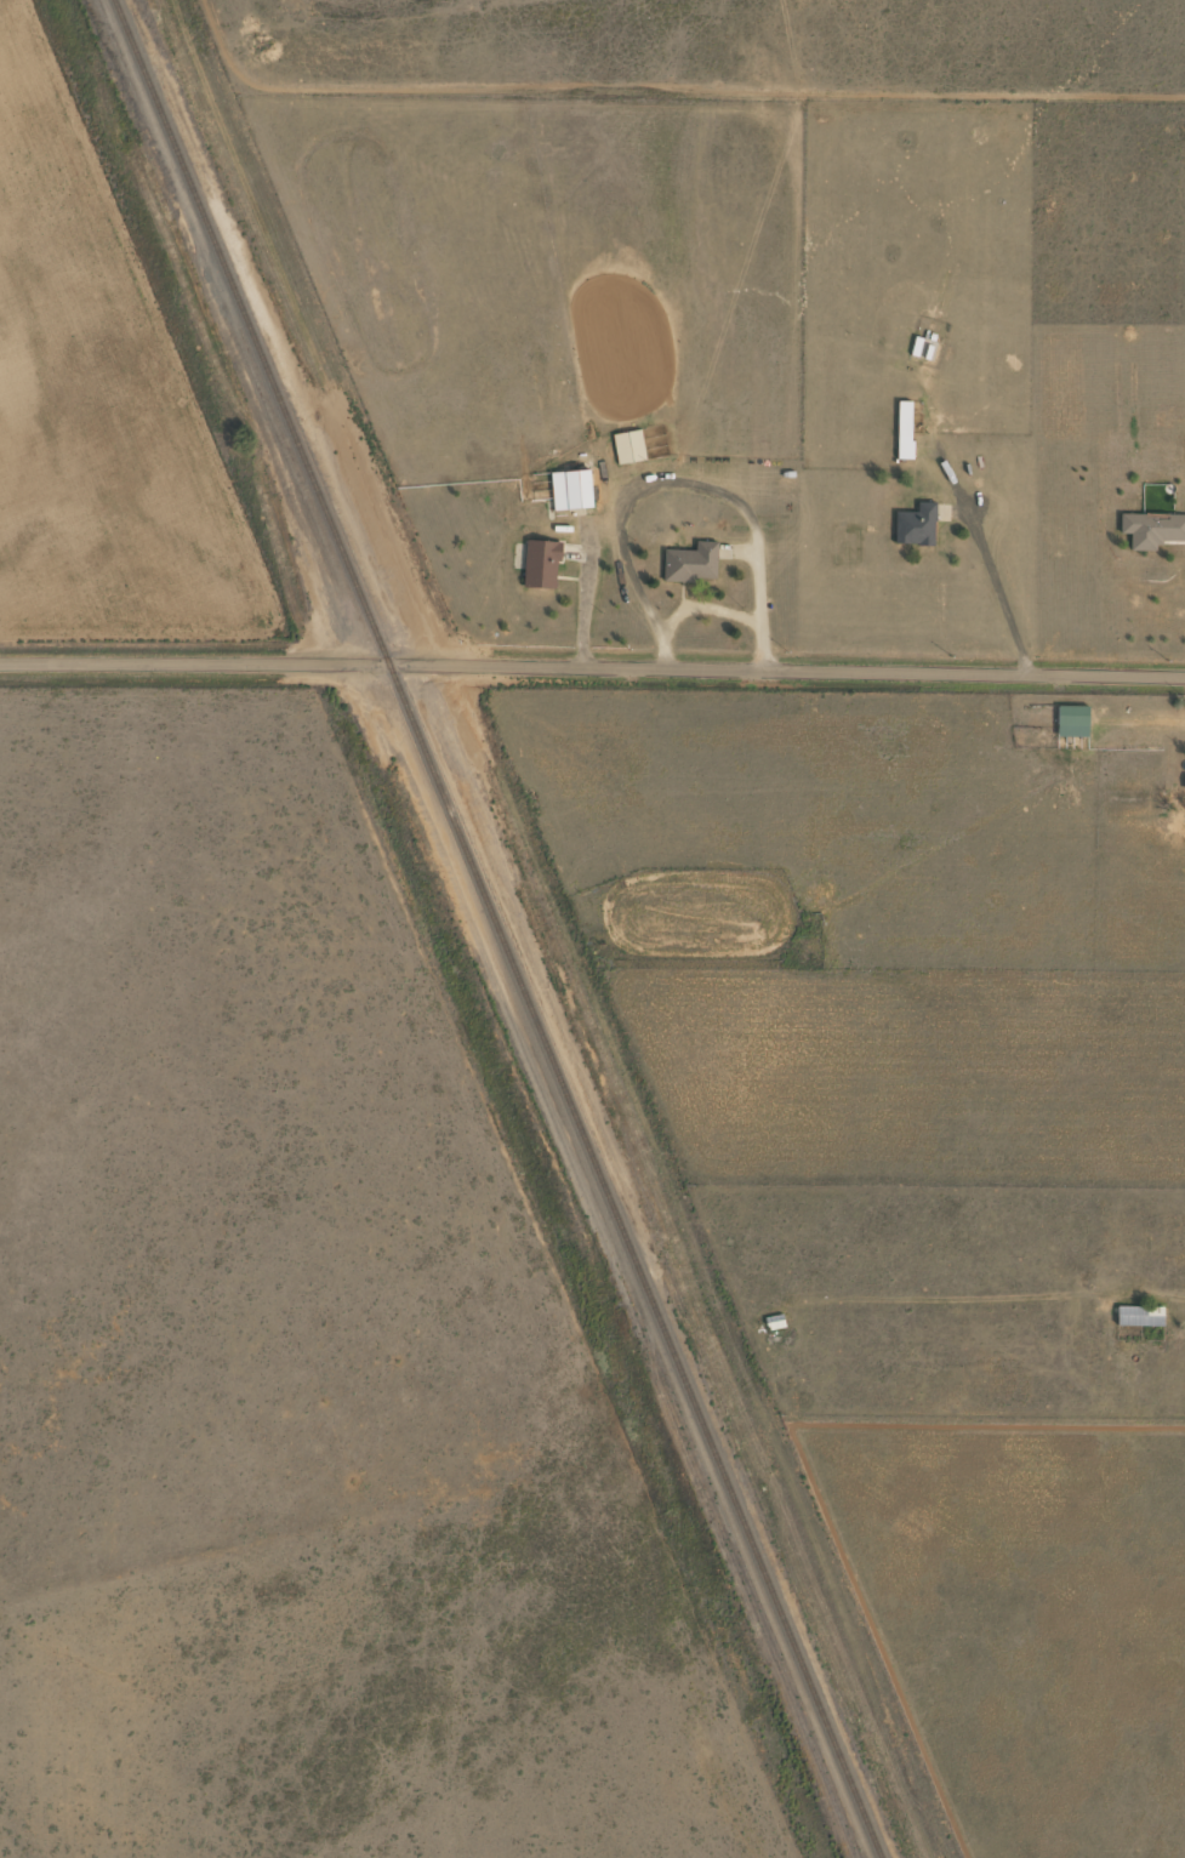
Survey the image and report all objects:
building: (904, 431)
building: (628, 448)
building: (571, 490)
building: (916, 525)
building: (1151, 529)
building: (541, 564)
building: (691, 564)
road: (592, 666)
building: (1072, 722)
railway: (497, 929)
building: (1139, 1317)
building: (774, 1323)

